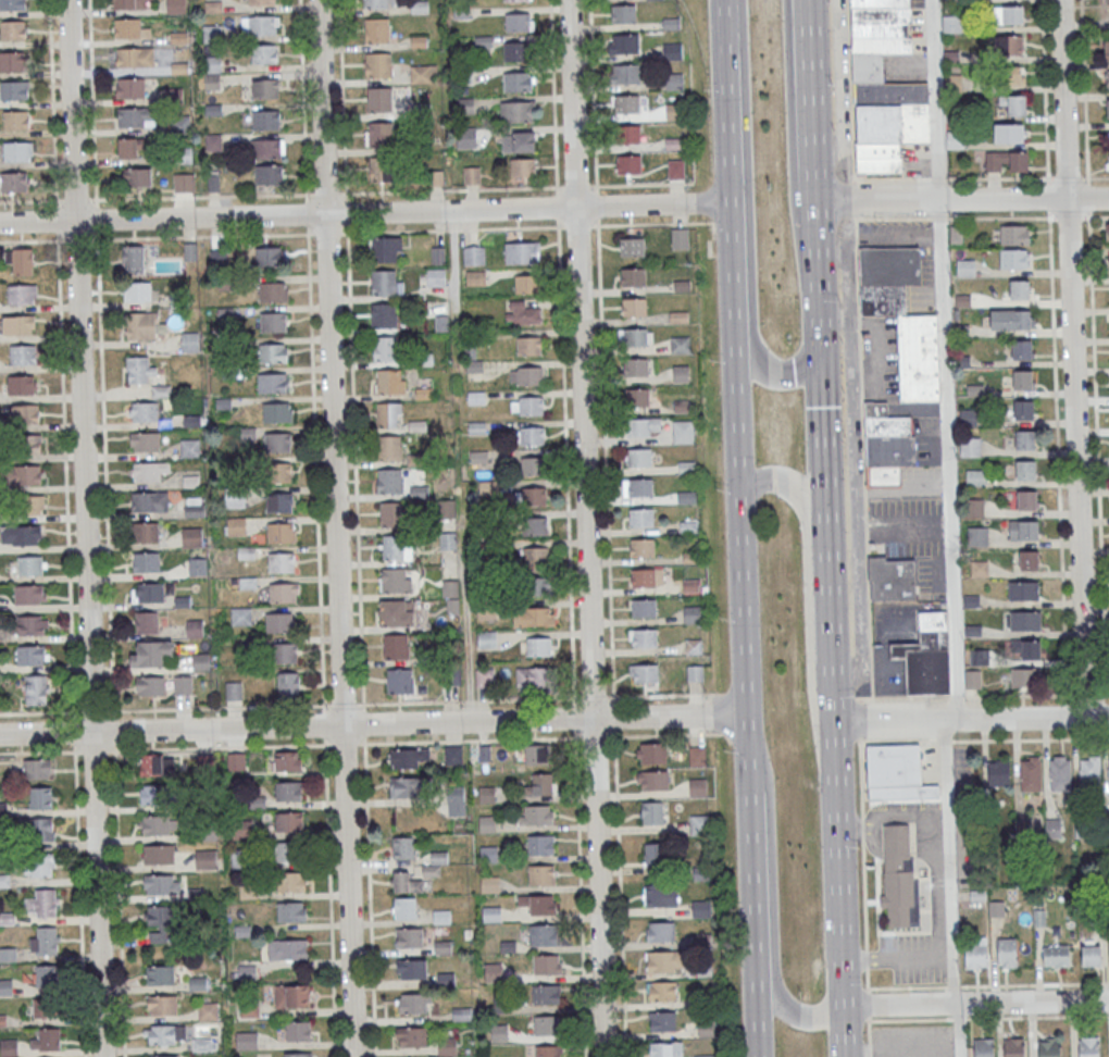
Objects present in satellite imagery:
building: (261, 1)
building: (375, 3)
road: (722, 3)
road: (722, 3)
building: (13, 4)
building: (129, 4)
building: (175, 5)
building: (623, 13)
building: (1107, 13)
building: (1008, 14)
building: (519, 22)
building: (262, 24)
road: (806, 24)
road: (813, 24)
building: (880, 26)
parking lot: (917, 26)
building: (127, 28)
building: (12, 29)
building: (376, 29)
building: (212, 32)
building: (623, 42)
building: (1008, 43)
building: (1106, 49)
building: (519, 50)
building: (672, 51)
building: (264, 53)
building: (133, 57)
building: (12, 61)
building: (377, 64)
parking lot: (904, 67)
building: (211, 72)
building: (625, 73)
building: (423, 74)
building: (1013, 75)
parking lot: (840, 77)
building: (1106, 78)
building: (518, 82)
building: (132, 87)
road: (1044, 88)
road: (1084, 88)
building: (14, 89)
building: (265, 89)
road: (839, 90)
road: (850, 90)
building: (378, 100)
building: (626, 103)
building: (1014, 103)
building: (464, 104)
building: (1107, 108)
road: (73, 110)
building: (516, 111)
building: (884, 114)
building: (136, 117)
building: (266, 119)
building: (15, 120)
building: (179, 124)
road: (817, 124)
building: (1009, 133)
building: (379, 134)
building: (628, 134)
building: (1108, 136)
building: (472, 137)
building: (519, 141)
building: (213, 142)
building: (269, 147)
building: (130, 148)
building: (17, 151)
building: (1108, 159)
building: (1006, 161)
building: (628, 164)
road: (728, 164)
building: (522, 167)
building: (381, 169)
building: (675, 169)
building: (270, 174)
building: (471, 174)
road: (1095, 176)
building: (137, 177)
road: (892, 177)
road: (937, 177)
road: (997, 177)
road: (1050, 177)
road: (1067, 177)
building: (13, 182)
road: (1087, 196)
road: (1048, 197)
road: (853, 198)
road: (963, 200)
road: (28, 201)
road: (364, 213)
road: (1098, 215)
road: (1086, 216)
road: (894, 217)
road: (998, 217)
road: (1067, 217)
road: (939, 219)
road: (748, 221)
building: (1108, 232)
building: (1014, 234)
building: (680, 238)
road: (48, 240)
building: (633, 246)
building: (386, 249)
building: (522, 252)
building: (473, 254)
building: (269, 256)
building: (133, 258)
building: (1014, 258)
building: (20, 260)
building: (965, 266)
building: (435, 276)
building: (475, 277)
building: (633, 277)
building: (385, 282)
building: (527, 284)
building: (1019, 289)
building: (137, 291)
building: (272, 291)
building: (21, 294)
building: (635, 307)
building: (526, 314)
building: (383, 315)
building: (678, 316)
building: (1011, 319)
building: (273, 321)
building: (17, 324)
building: (140, 325)
building: (635, 337)
building: (189, 341)
building: (680, 344)
building: (529, 346)
traffic signals: (824, 347)
building: (385, 348)
building: (1021, 349)
building: (273, 352)
building: (23, 355)
road: (1071, 359)
building: (898, 361)
building: (636, 368)
building: (140, 370)
building: (681, 373)
building: (531, 375)
road: (62, 376)
building: (1022, 380)
building: (389, 381)
building: (273, 383)
building: (21, 385)
building: (637, 397)
building: (531, 406)
building: (1023, 409)
building: (145, 411)
building: (276, 412)
building: (25, 413)
building: (388, 414)
building: (638, 426)
building: (683, 432)
building: (533, 435)
building: (1024, 439)
building: (147, 442)
building: (277, 443)
building: (26, 444)
building: (969, 446)
building: (189, 447)
building: (388, 448)
building: (639, 457)
road: (863, 457)
building: (533, 465)
road: (1097, 467)
road: (1058, 468)
building: (1025, 470)
building: (149, 471)
building: (278, 472)
building: (22, 474)
road: (105, 475)
building: (975, 476)
building: (389, 481)
building: (640, 487)
building: (234, 497)
building: (535, 497)
building: (1026, 499)
building: (150, 501)
building: (279, 502)
building: (28, 505)
building: (194, 506)
building: (390, 514)
building: (641, 517)
building: (236, 525)
building: (535, 525)
road: (317, 527)
road: (338, 527)
road: (568, 527)
road: (588, 527)
road: (357, 528)
road: (608, 528)
road: (951, 530)
building: (1023, 530)
building: (146, 532)
building: (281, 532)
building: (20, 535)
building: (191, 537)
building: (447, 540)
building: (395, 548)
building: (643, 548)
building: (536, 556)
building: (1029, 560)
building: (147, 561)
building: (282, 562)
building: (30, 564)
building: (198, 567)
road: (810, 570)
building: (643, 579)
building: (394, 580)
building: (892, 580)
building: (537, 585)
building: (1023, 590)
building: (151, 592)
building: (283, 592)
building: (27, 594)
building: (644, 609)
building: (395, 614)
building: (691, 614)
building: (240, 615)
building: (536, 617)
road: (466, 619)
building: (1024, 620)
building: (279, 621)
building: (146, 622)
building: (29, 624)
building: (195, 627)
road: (832, 629)
building: (645, 637)
road: (90, 638)
building: (396, 646)
building: (539, 647)
building: (1026, 649)
building: (284, 651)
building: (150, 652)
building: (29, 654)
building: (926, 656)
building: (979, 656)
building: (201, 661)
building: (647, 673)
building: (695, 673)
building: (484, 676)
building: (534, 676)
building: (1022, 677)
building: (972, 679)
building: (400, 680)
building: (182, 684)
building: (152, 685)
building: (288, 685)
building: (35, 689)
road: (746, 689)
building: (233, 691)
road: (1036, 696)
road: (956, 697)
road: (904, 698)
road: (344, 705)
road: (57, 711)
road: (971, 719)
road: (860, 720)
road: (373, 723)
road: (898, 741)
road: (1031, 741)
road: (944, 742)
building: (651, 753)
building: (453, 754)
building: (536, 754)
building: (697, 755)
building: (409, 758)
building: (235, 760)
building: (287, 760)
building: (157, 764)
building: (37, 768)
building: (998, 772)
building: (1089, 772)
building: (897, 774)
building: (1030, 774)
building: (1059, 774)
building: (652, 780)
building: (541, 784)
building: (698, 786)
building: (408, 787)
building: (288, 789)
building: (1108, 791)
building: (153, 794)
building: (487, 794)
building: (40, 797)
building: (456, 799)
building: (652, 812)
building: (537, 814)
building: (289, 821)
building: (487, 823)
building: (698, 824)
building: (153, 825)
building: (37, 829)
building: (540, 844)
building: (403, 847)
building: (289, 850)
building: (488, 854)
building: (655, 854)
building: (158, 855)
building: (205, 859)
building: (39, 865)
building: (701, 873)
building: (543, 874)
building: (0, 878)
building: (899, 878)
road: (863, 880)
building: (289, 881)
building: (406, 882)
building: (162, 884)
building: (490, 884)
road: (772, 894)
building: (660, 895)
building: (41, 904)
building: (543, 904)
road: (80, 905)
building: (404, 907)
building: (290, 911)
building: (493, 913)
building: (441, 916)
building: (5, 918)
building: (163, 923)
building: (660, 931)
building: (543, 934)
building: (410, 936)
building: (43, 941)
building: (509, 946)
building: (443, 947)
building: (295, 948)
building: (1007, 952)
building: (975, 954)
building: (7, 955)
building: (1091, 955)
building: (1056, 956)
building: (662, 961)
building: (546, 963)
building: (414, 968)
building: (494, 971)
building: (160, 974)
building: (47, 975)
building: (446, 979)
road: (1034, 983)
road: (951, 985)
building: (7, 986)
road: (906, 986)
building: (662, 992)
building: (546, 993)
building: (297, 994)
building: (414, 1003)
road: (976, 1003)
building: (502, 1004)
building: (162, 1005)
building: (47, 1008)
building: (208, 1010)
road: (987, 1017)
building: (1, 1020)
building: (662, 1021)
building: (546, 1025)
building: (299, 1031)
building: (500, 1033)
building: (166, 1034)
building: (413, 1036)
road: (868, 1039)
building: (47, 1040)
building: (247, 1040)
building: (202, 1044)
building: (447, 1045)
building: (8, 1047)
building: (984, 1047)
building: (1014, 1047)
building: (1089, 1047)
building: (1050, 1048)
building: (666, 1049)
building: (548, 1050)
building: (297, 1054)
building: (165, 1056)
building: (703, 1056)

